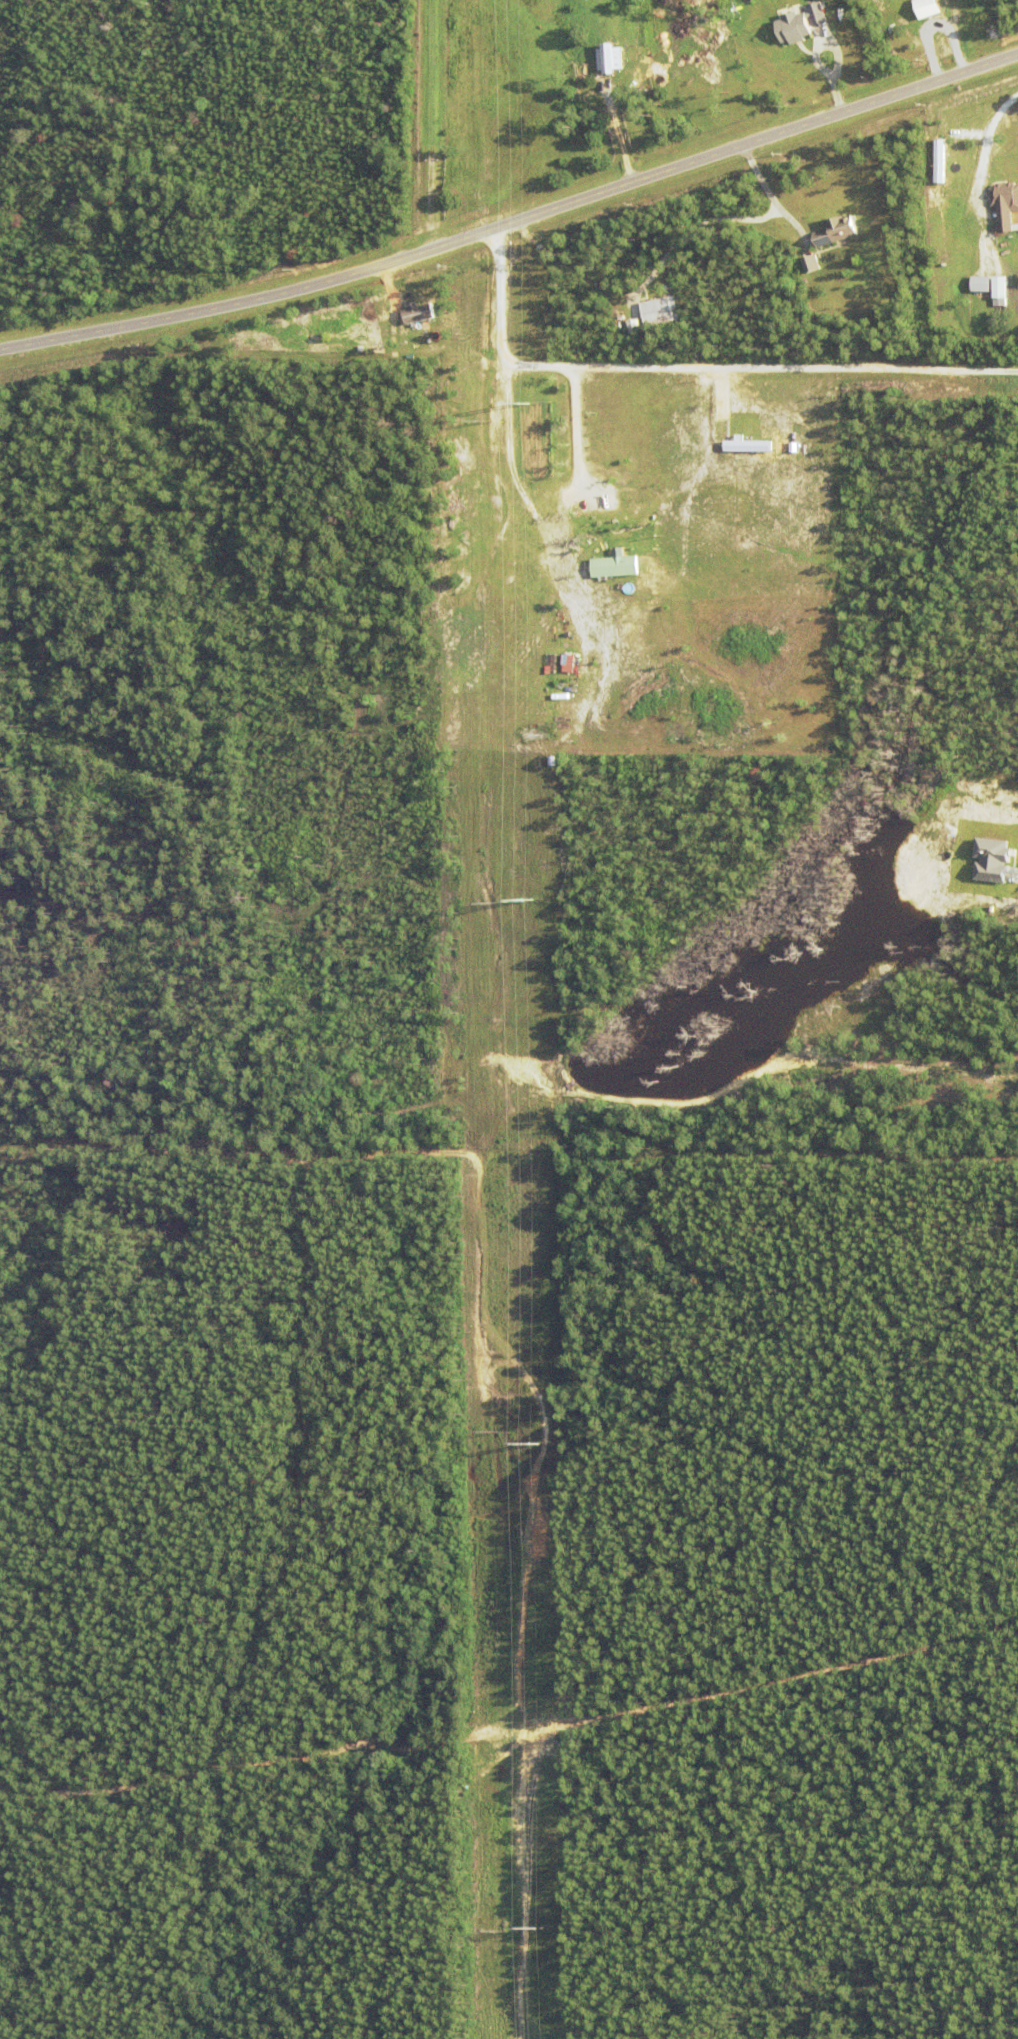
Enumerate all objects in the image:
building: (924, 7)
building: (815, 12)
building: (794, 29)
building: (607, 57)
road: (428, 127)
road: (1006, 138)
road: (986, 140)
road: (768, 196)
building: (1005, 196)
building: (946, 206)
road: (514, 224)
building: (837, 233)
building: (808, 263)
road: (652, 269)
building: (978, 283)
building: (998, 291)
building: (416, 312)
building: (660, 312)
building: (636, 327)
building: (612, 566)
building: (567, 662)
building: (989, 856)

